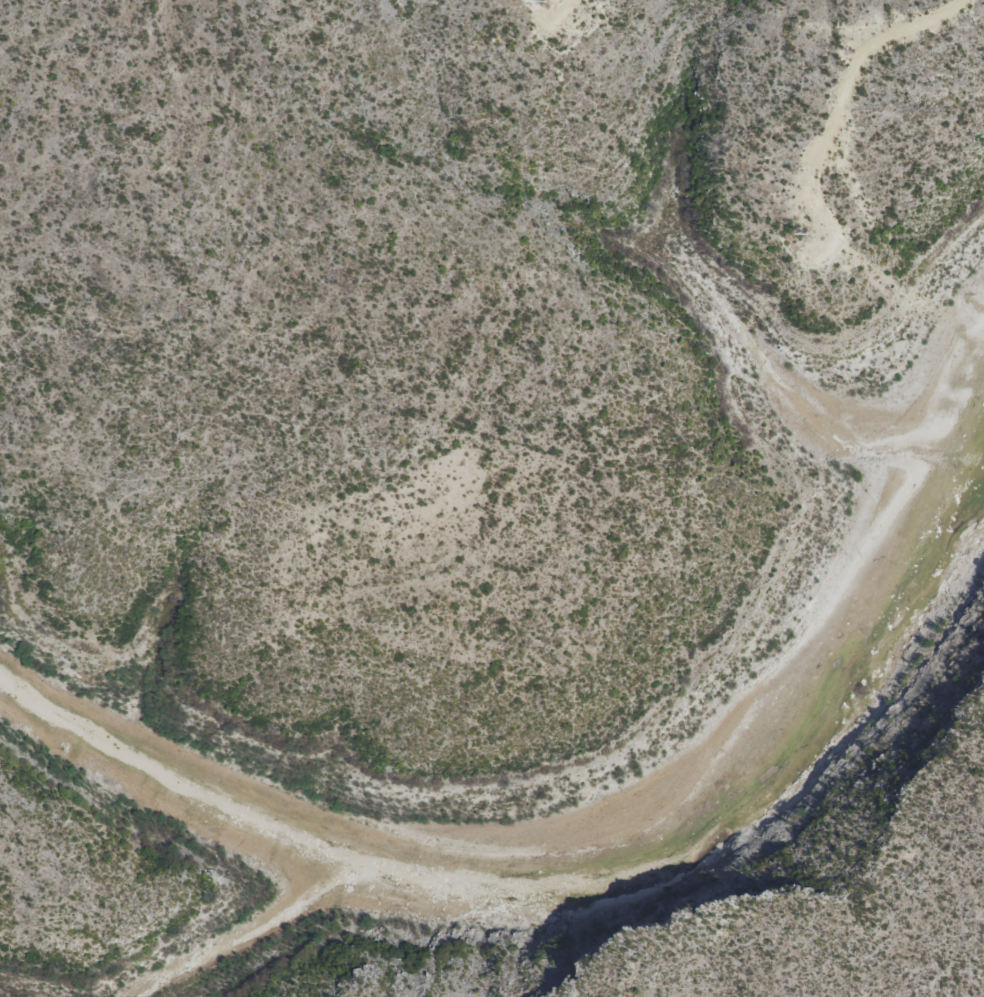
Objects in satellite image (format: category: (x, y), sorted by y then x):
power tower: (543, 0)
power tower: (806, 234)

